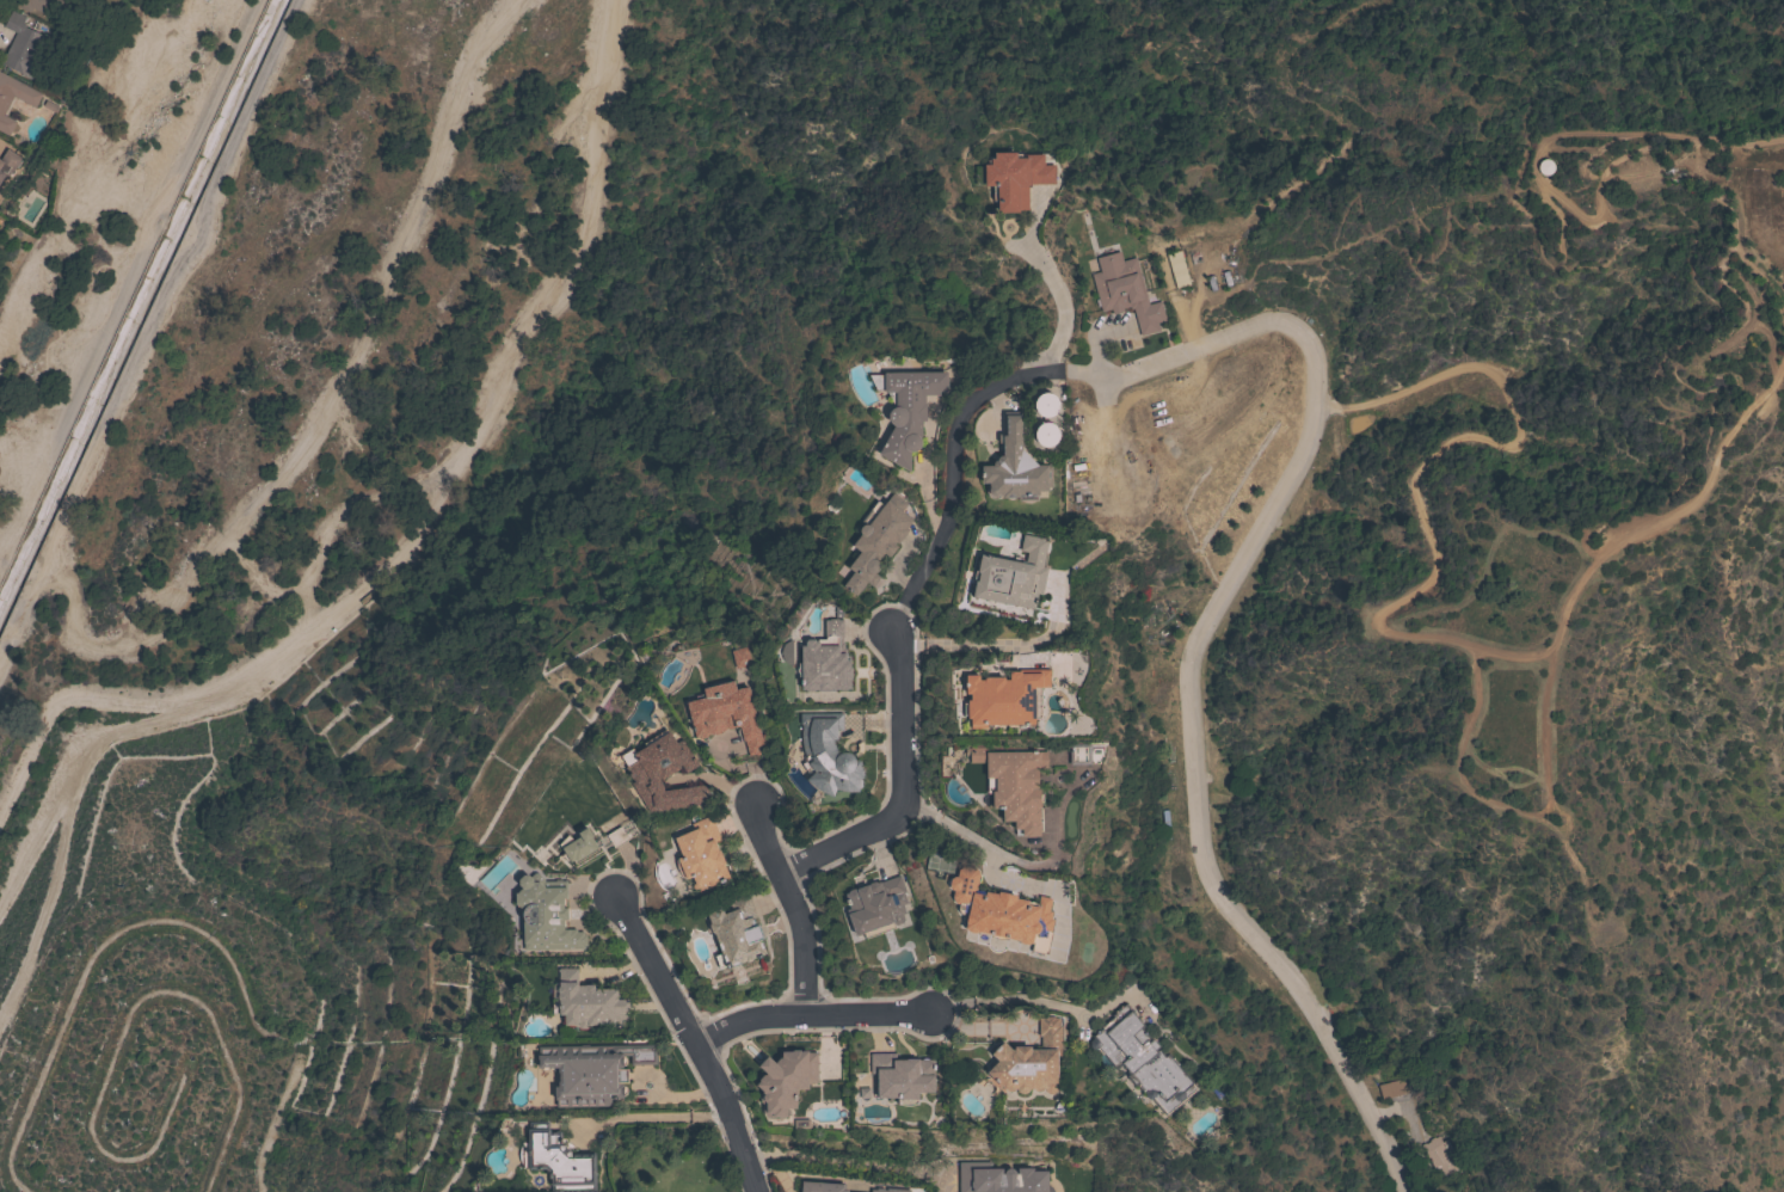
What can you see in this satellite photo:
building: (78, 0)
building: (39, 4)
building: (23, 45)
building: (30, 102)
road: (1737, 143)
building: (10, 165)
building: (1542, 165)
storage tank: (1544, 166)
building: (1014, 178)
road: (1543, 182)
building: (1176, 269)
road: (123, 278)
road: (1054, 289)
building: (1125, 291)
road: (150, 326)
building: (1045, 404)
building: (1031, 405)
building: (906, 408)
road: (327, 411)
building: (1045, 434)
building: (1031, 435)
building: (1014, 466)
road: (1269, 504)
road: (1634, 529)
building: (875, 540)
road: (386, 572)
building: (1011, 576)
road: (1410, 586)
road: (988, 645)
building: (739, 657)
building: (825, 660)
road: (81, 696)
building: (1004, 698)
building: (726, 714)
road: (1540, 744)
building: (826, 754)
building: (662, 773)
building: (1014, 785)
road: (900, 791)
building: (616, 836)
building: (577, 844)
road: (29, 846)
building: (700, 854)
road: (997, 854)
road: (1042, 892)
building: (875, 905)
road: (787, 910)
building: (1001, 911)
building: (545, 914)
road: (171, 918)
building: (736, 933)
building: (585, 1002)
road: (992, 1002)
road: (127, 1014)
road: (804, 1019)
road: (696, 1040)
building: (1029, 1061)
building: (1142, 1061)
building: (591, 1070)
building: (902, 1076)
building: (785, 1080)
building: (1392, 1088)
building: (1439, 1155)
building: (556, 1160)
road: (845, 1162)
building: (999, 1179)
building: (820, 1186)
building: (887, 1190)

